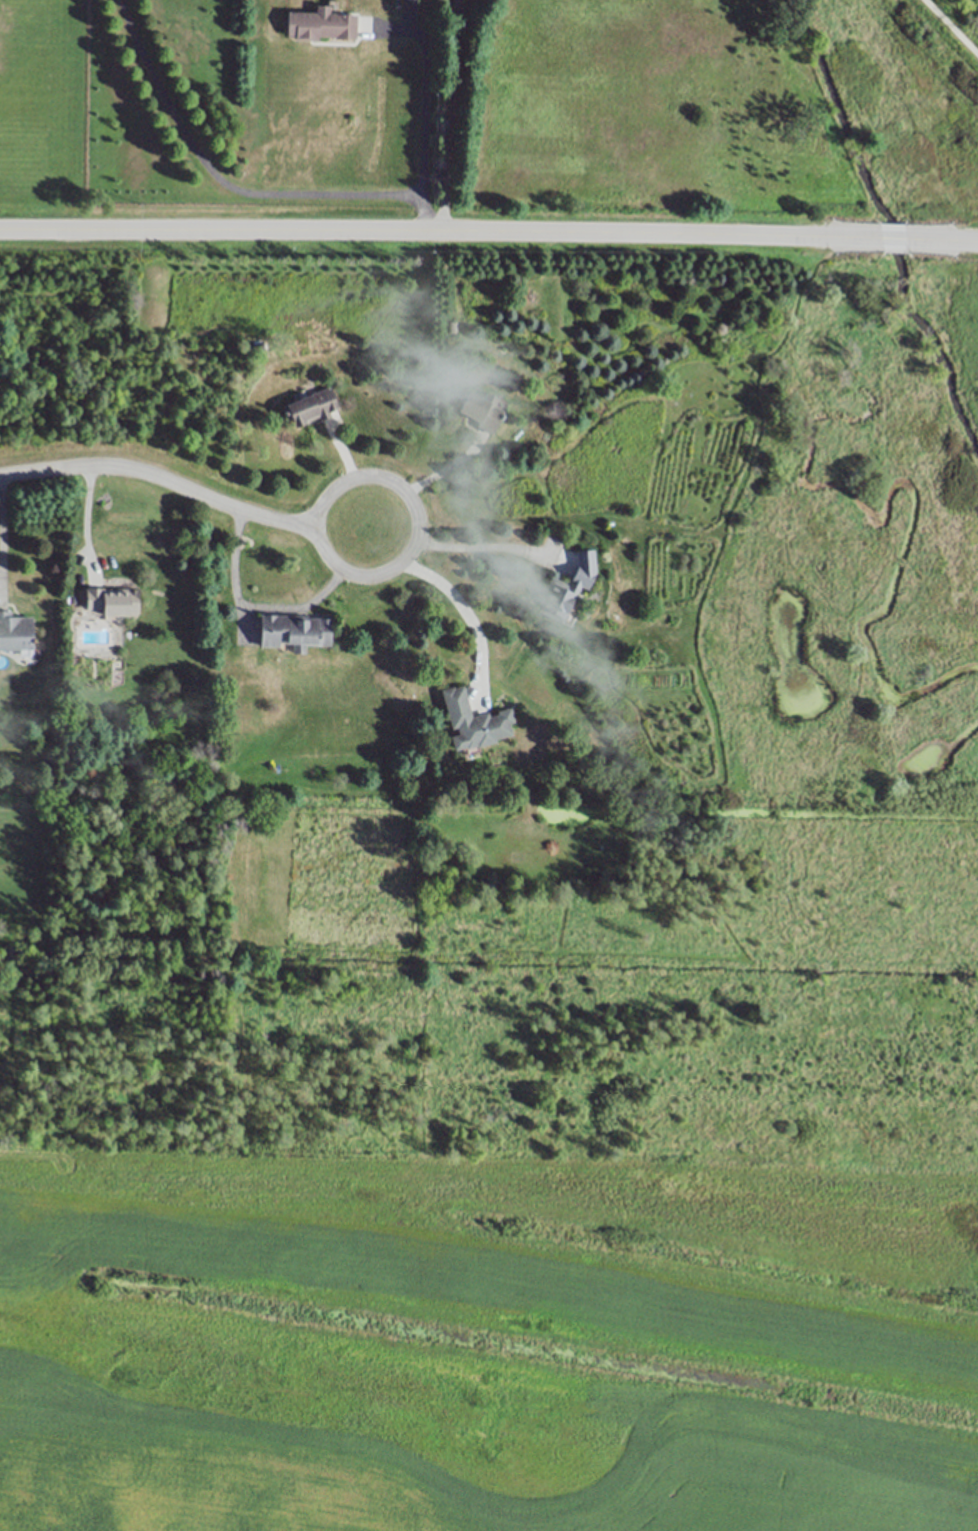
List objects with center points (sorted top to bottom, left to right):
building: (404, 0)
building: (320, 23)
road: (950, 28)
road: (426, 112)
road: (450, 115)
road: (220, 179)
road: (440, 231)
road: (894, 237)
road: (943, 238)
building: (450, 325)
building: (256, 347)
building: (310, 407)
building: (481, 410)
road: (161, 479)
road: (415, 512)
road: (85, 523)
road: (2, 530)
road: (489, 546)
building: (568, 587)
building: (112, 601)
road: (251, 606)
road: (471, 616)
building: (14, 630)
building: (293, 630)
building: (474, 721)

